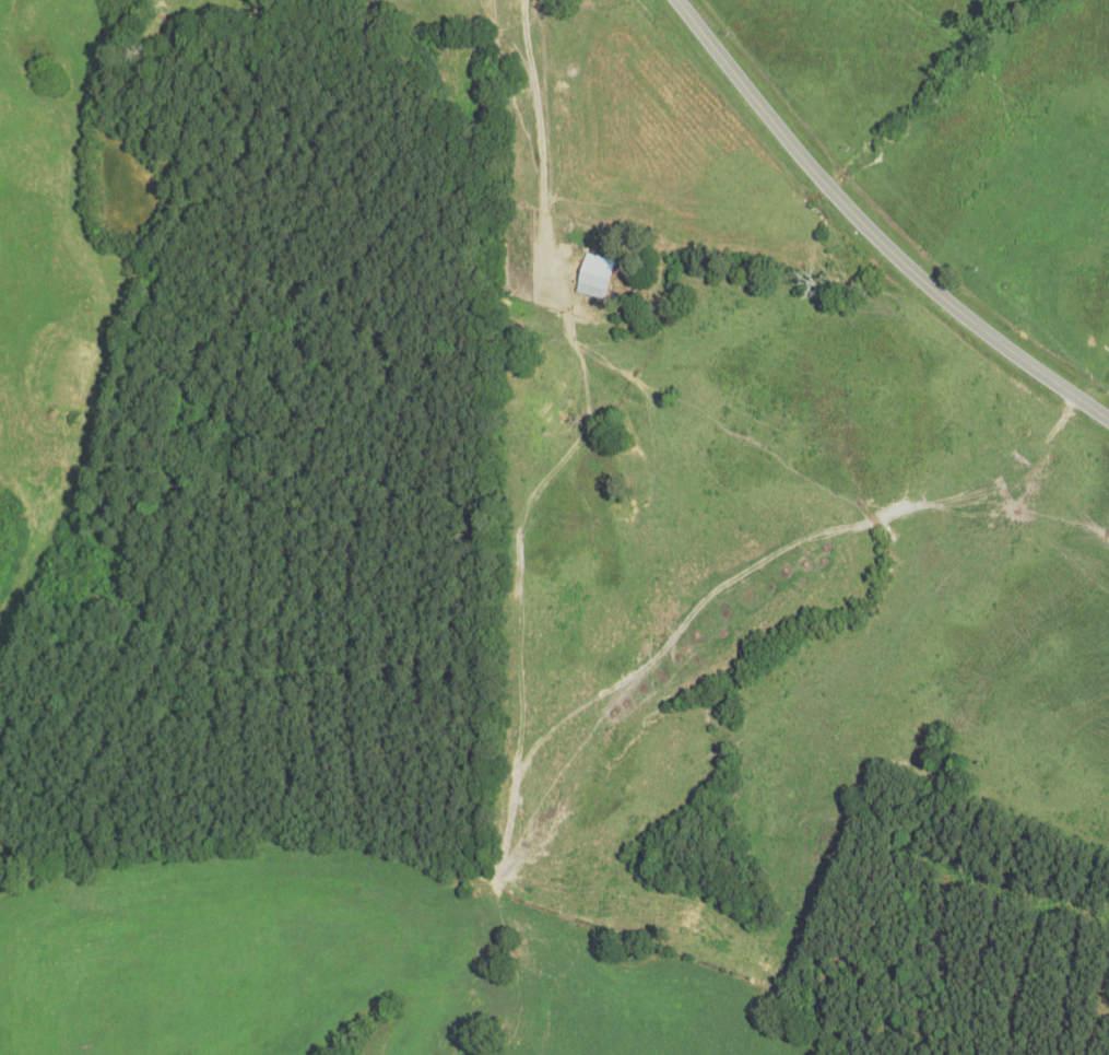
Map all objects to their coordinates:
road: (873, 228)
building: (600, 277)

